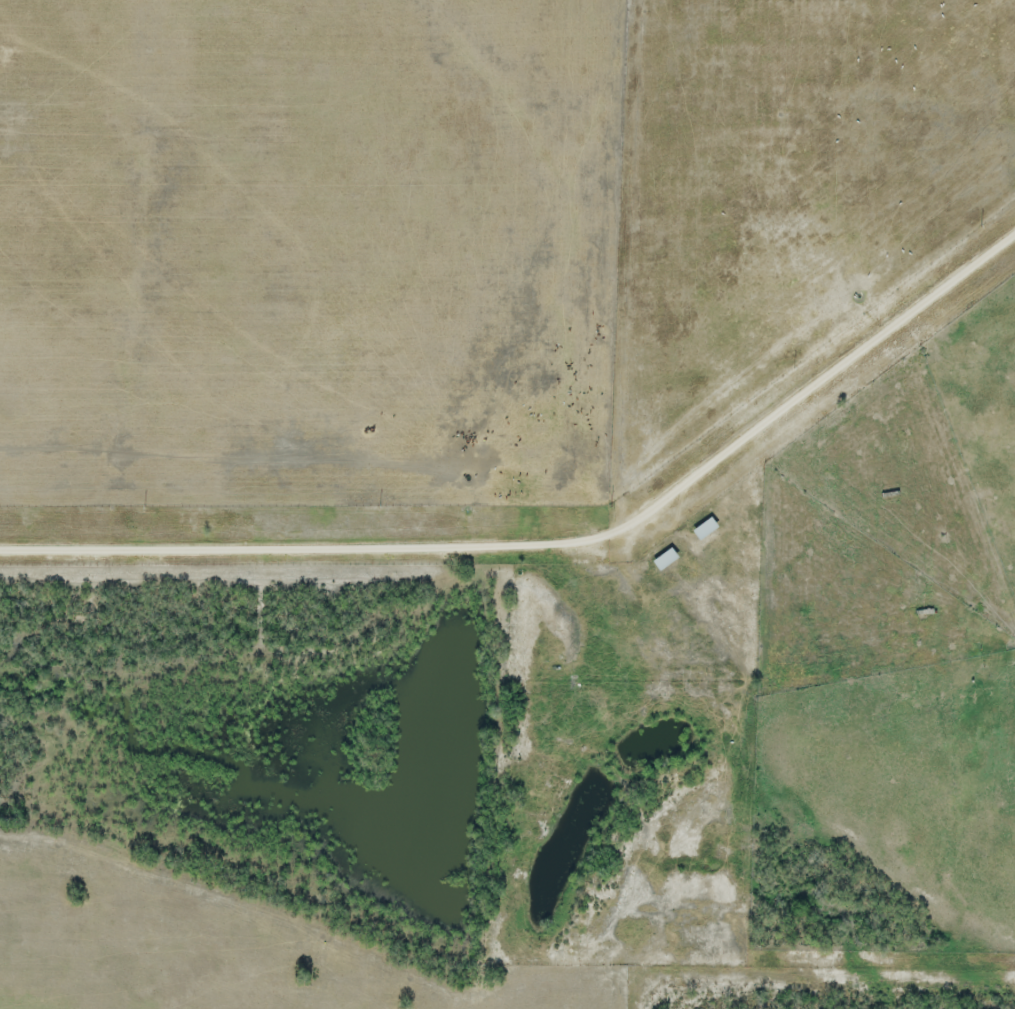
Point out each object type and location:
building: (701, 531)
road: (557, 546)
building: (661, 561)

